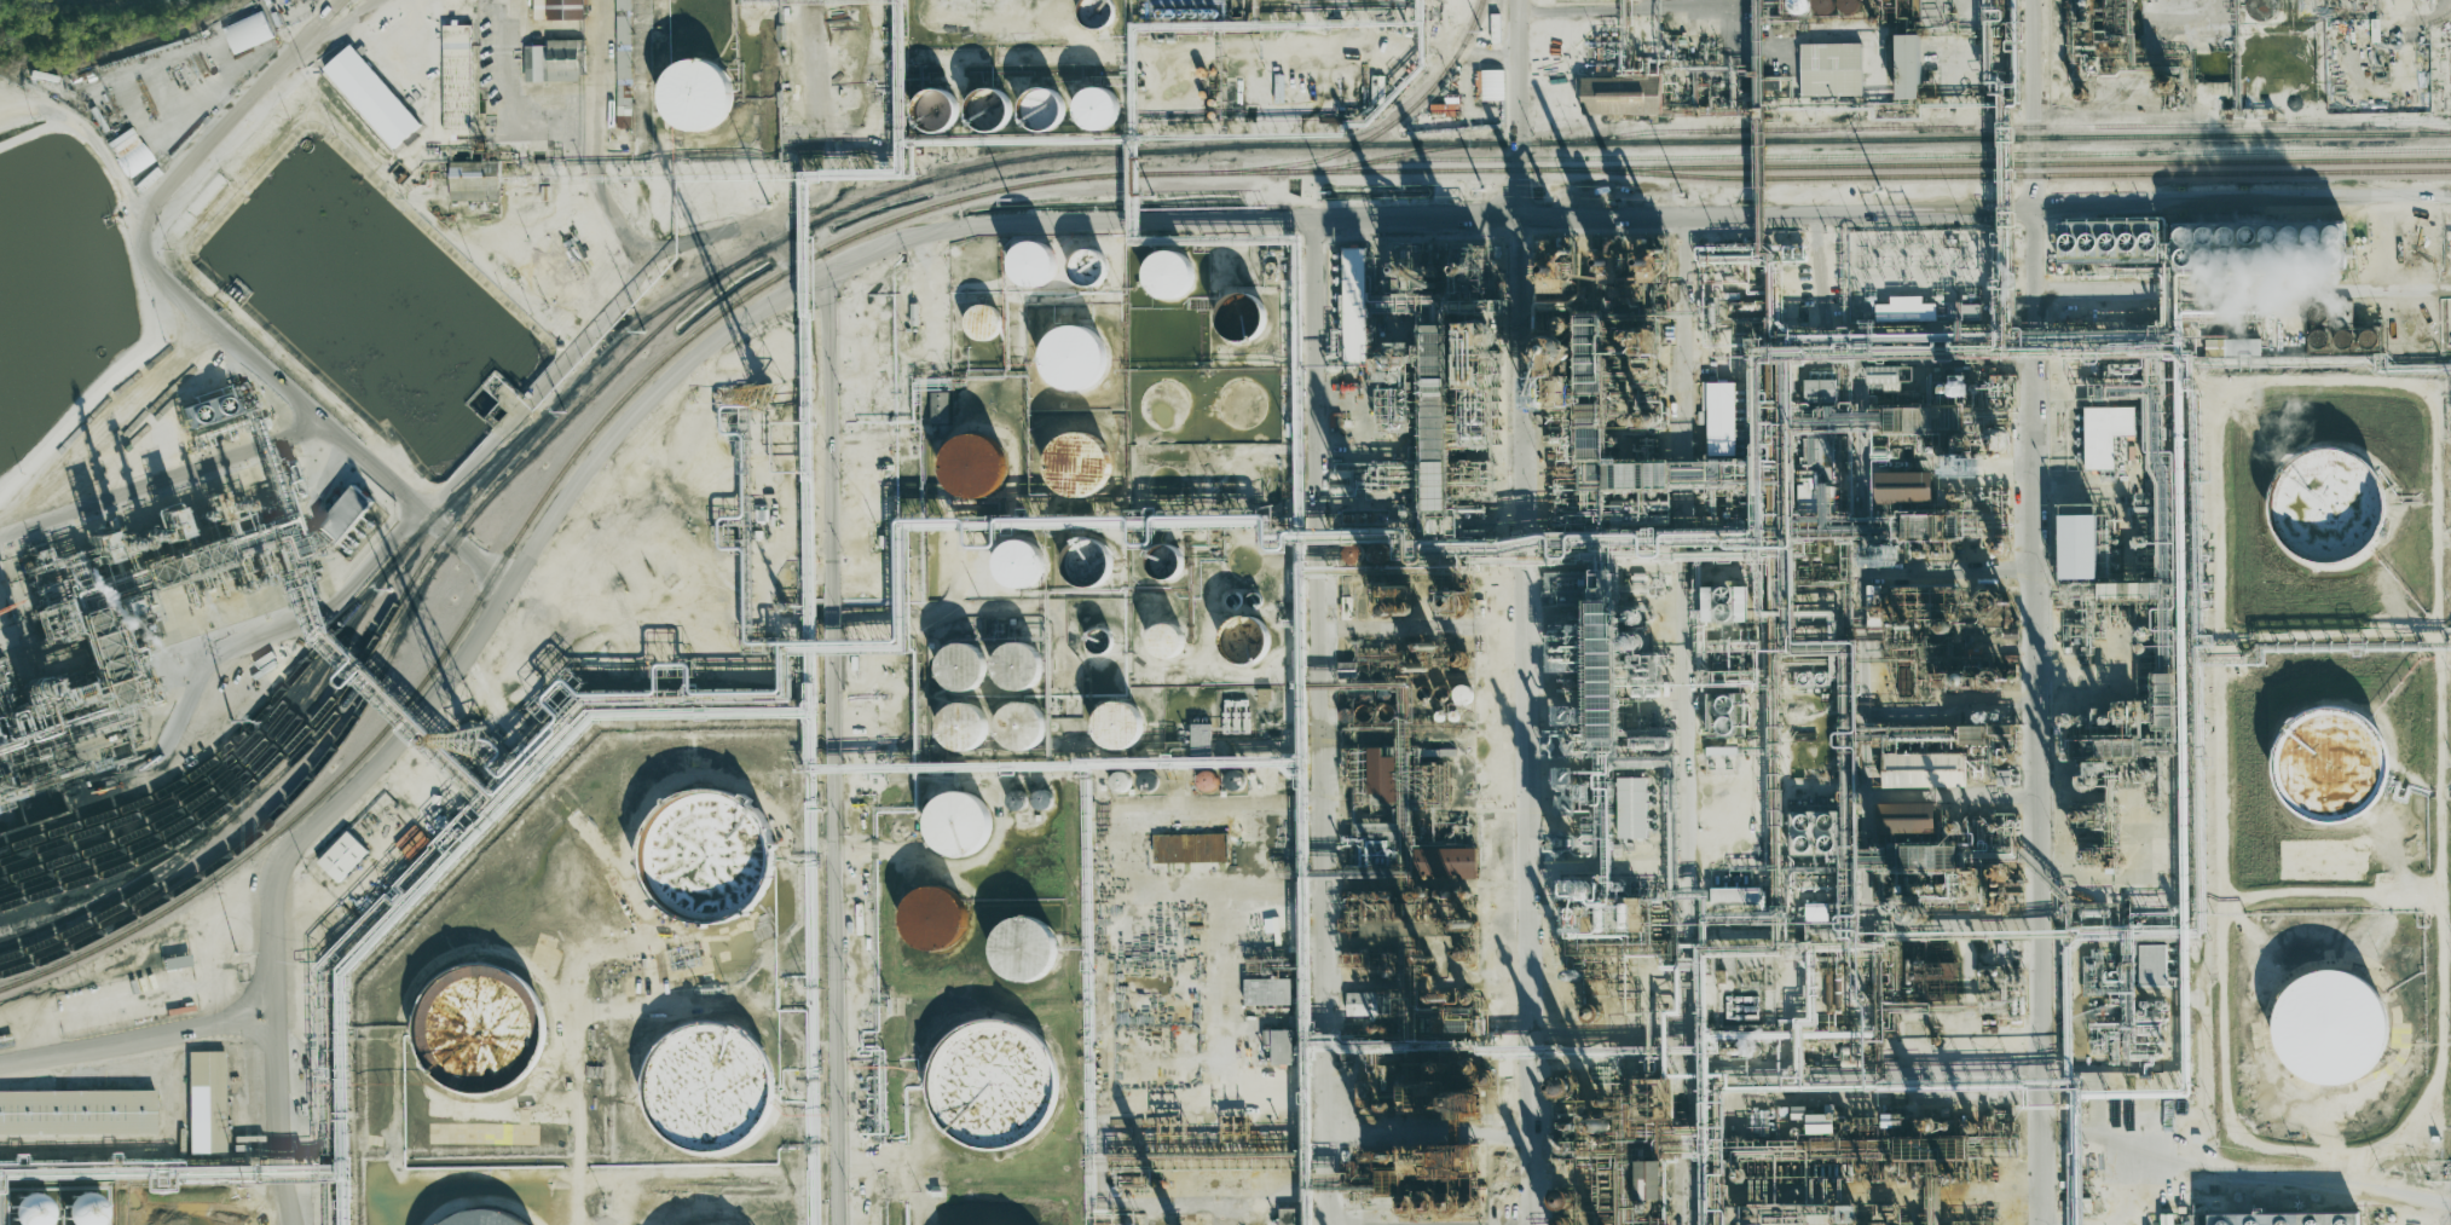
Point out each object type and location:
building: (2404, 4)
building: (1797, 6)
building: (1823, 6)
building: (1849, 6)
building: (559, 10)
building: (1096, 13)
building: (1495, 28)
building: (247, 31)
building: (456, 40)
road: (2427, 41)
road: (1245, 53)
road: (1580, 57)
building: (554, 60)
building: (1908, 67)
building: (1831, 69)
building: (690, 85)
storage tank: (690, 85)
building: (1492, 85)
building: (371, 96)
building: (1036, 96)
storage tank: (1036, 96)
building: (1612, 96)
building: (1094, 97)
storage tank: (1094, 97)
building: (925, 99)
storage tank: (925, 99)
building: (982, 99)
storage tank: (982, 99)
road: (815, 103)
road: (2028, 104)
road: (1518, 108)
road: (511, 112)
road: (34, 114)
road: (237, 120)
railway: (2406, 122)
railway: (1994, 127)
railway: (1376, 133)
railway: (1994, 137)
road: (98, 150)
railway: (1115, 151)
road: (603, 152)
railway: (1406, 154)
railway: (1898, 155)
railway: (1995, 164)
railway: (1994, 174)
building: (473, 181)
road: (430, 208)
railway: (931, 208)
road: (1734, 215)
building: (2109, 241)
building: (2259, 245)
building: (1033, 264)
storage tank: (1033, 264)
building: (1088, 266)
storage tank: (1088, 266)
building: (1169, 275)
storage tank: (1169, 275)
building: (1354, 306)
building: (1904, 310)
building: (2318, 312)
storage tank: (2318, 312)
railway: (651, 314)
building: (1241, 316)
storage tank: (1241, 316)
building: (983, 320)
storage tank: (983, 320)
building: (2318, 337)
storage tank: (2318, 337)
building: (2343, 337)
storage tank: (2343, 337)
building: (2368, 337)
storage tank: (2368, 337)
building: (2242, 346)
building: (1074, 357)
storage tank: (1074, 357)
building: (1884, 377)
road: (2299, 380)
road: (111, 388)
building: (1820, 391)
storage tank: (1242, 403)
building: (940, 406)
storage tank: (1164, 406)
building: (1718, 417)
building: (2105, 434)
building: (1080, 464)
storage tank: (1080, 464)
building: (973, 466)
storage tank: (973, 466)
road: (464, 469)
railway: (481, 472)
road: (158, 480)
storage tank: (1164, 483)
building: (1901, 487)
building: (2320, 490)
storage tank: (2320, 490)
building: (345, 514)
building: (2077, 547)
road: (463, 551)
building: (1166, 561)
storage tank: (1166, 561)
building: (1087, 562)
storage tank: (1087, 562)
building: (1019, 564)
storage tank: (1019, 564)
building: (13, 571)
building: (1235, 600)
storage tank: (1235, 600)
building: (1255, 600)
storage tank: (1255, 600)
building: (1452, 602)
building: (1724, 603)
railway: (398, 623)
road: (2329, 634)
building: (1167, 640)
storage tank: (1167, 640)
building: (1244, 640)
storage tank: (1244, 640)
building: (1099, 641)
storage tank: (1099, 641)
road: (1977, 642)
road: (832, 649)
building: (963, 665)
storage tank: (963, 665)
building: (1017, 665)
storage tank: (1017, 665)
road: (435, 693)
building: (1264, 694)
building: (1462, 694)
railway: (324, 707)
building: (1727, 715)
road: (2033, 716)
road: (1525, 720)
road: (1303, 723)
building: (1117, 724)
storage tank: (1117, 724)
building: (1021, 726)
storage tank: (1021, 726)
building: (963, 727)
storage tank: (963, 727)
building: (1972, 734)
building: (1200, 735)
railway: (233, 741)
road: (1688, 746)
railway: (242, 763)
building: (2331, 765)
storage tank: (2331, 765)
building: (1924, 769)
railway: (337, 776)
building: (1382, 776)
building: (1148, 779)
storage tank: (1148, 779)
railway: (202, 780)
building: (1208, 780)
storage tank: (1208, 780)
building: (1235, 780)
storage tank: (1235, 780)
building: (1121, 781)
storage tank: (1121, 781)
road: (1497, 792)
road: (2169, 794)
railway: (222, 796)
building: (1017, 799)
storage tank: (1017, 799)
building: (1042, 799)
storage tank: (1042, 799)
building: (1635, 808)
building: (1906, 819)
building: (959, 824)
storage tank: (959, 824)
railway: (262, 825)
building: (1190, 848)
building: (707, 855)
storage tank: (707, 855)
building: (342, 856)
road: (2102, 868)
road: (2329, 891)
building: (1741, 895)
railway: (127, 901)
building: (933, 918)
storage tank: (933, 918)
building: (1024, 949)
storage tank: (1024, 949)
railway: (80, 957)
building: (177, 961)
building: (1267, 990)
building: (1362, 1004)
building: (473, 1015)
storage tank: (473, 1015)
building: (2329, 1019)
storage tank: (2329, 1019)
road: (134, 1035)
building: (1279, 1045)
building: (701, 1077)
storage tank: (701, 1077)
road: (1690, 1080)
building: (993, 1084)
storage tank: (993, 1084)
building: (207, 1102)
building: (76, 1111)
building: (1819, 1123)
road: (2189, 1162)
building: (1648, 1179)
road: (2162, 1184)
road: (2400, 1191)
building: (1562, 1198)
building: (25, 1204)
storage tank: (25, 1204)
building: (79, 1206)
storage tank: (79, 1206)
road: (2218, 1208)
road: (2449, 1212)
building: (1849, 1214)
building: (1290, 1215)
building: (478, 1217)
storage tank: (478, 1217)
building: (2288, 1220)
building: (2183, 1221)

